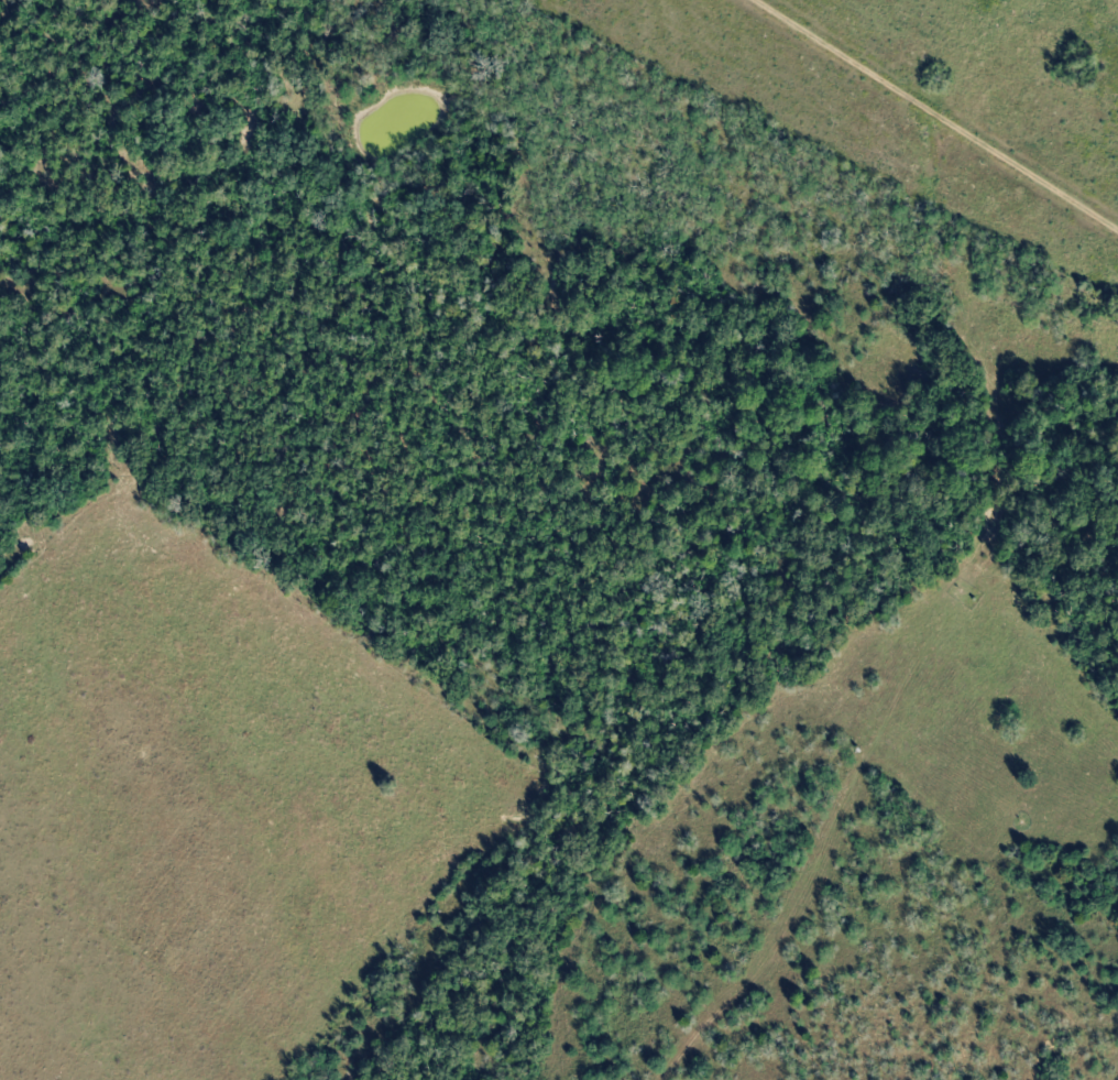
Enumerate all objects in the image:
road: (936, 116)

